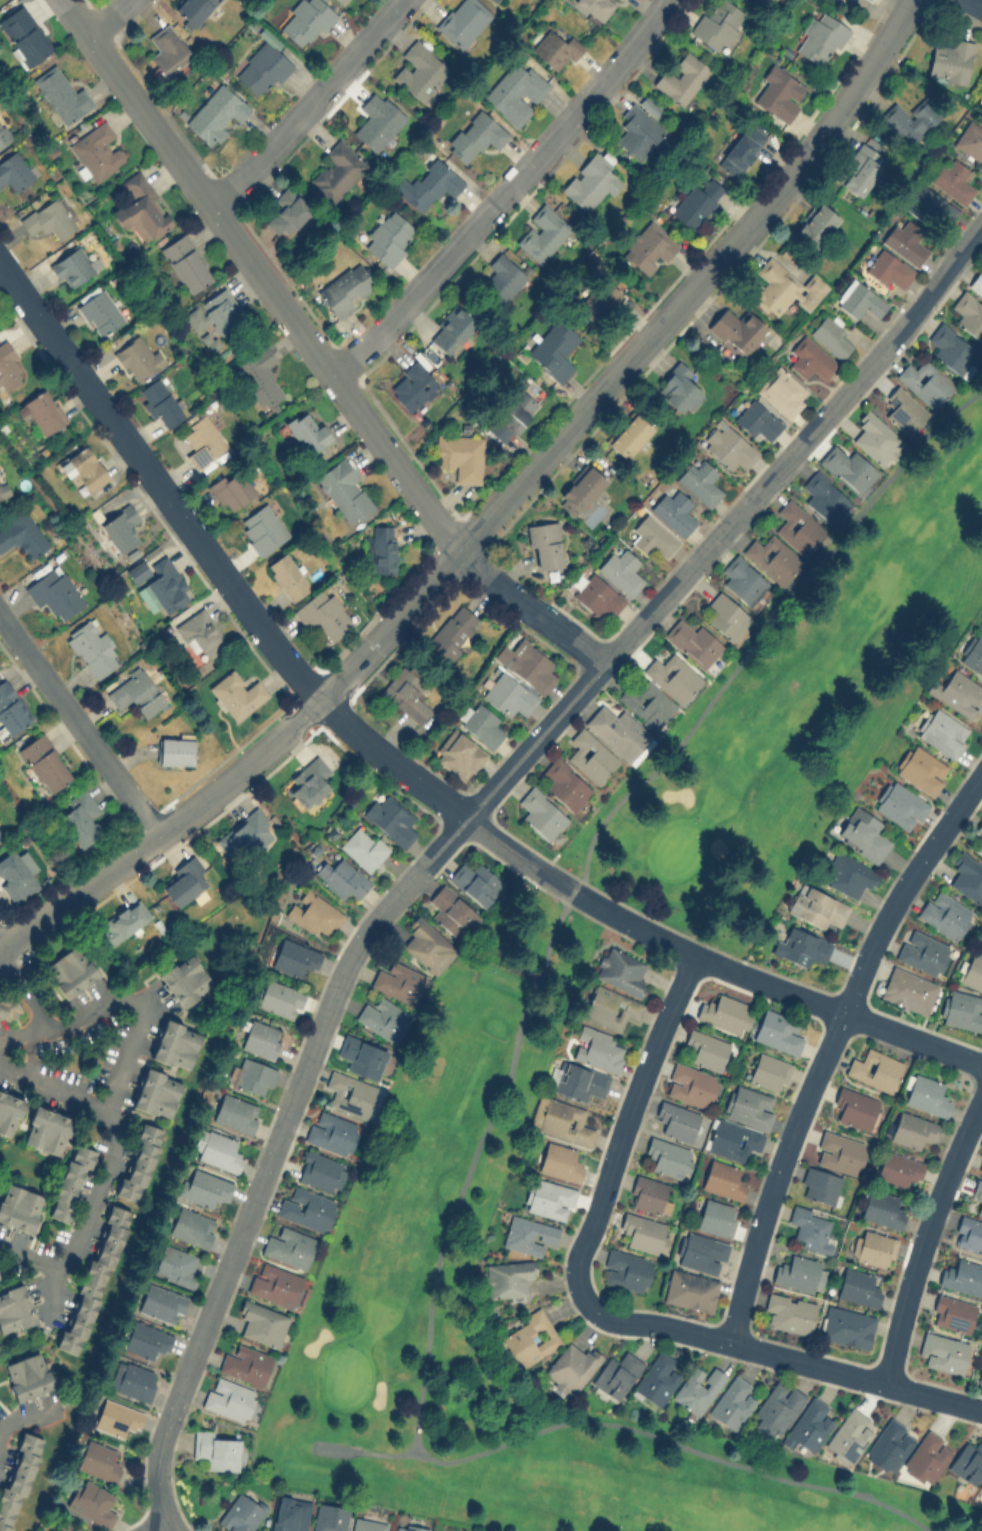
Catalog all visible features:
building: (493, 0)
building: (867, 0)
building: (620, 1)
building: (342, 2)
road: (977, 2)
building: (597, 7)
building: (191, 10)
road: (106, 17)
building: (305, 21)
building: (462, 21)
building: (718, 24)
building: (24, 34)
building: (820, 38)
building: (554, 46)
building: (167, 48)
building: (950, 60)
building: (261, 69)
building: (420, 70)
building: (681, 78)
building: (515, 92)
building: (780, 92)
building: (60, 93)
road: (306, 105)
building: (216, 113)
building: (981, 114)
building: (377, 120)
building: (909, 120)
building: (638, 131)
building: (4, 134)
building: (475, 135)
building: (969, 140)
building: (741, 149)
building: (96, 151)
building: (860, 168)
building: (338, 170)
building: (13, 171)
building: (953, 179)
building: (591, 180)
building: (428, 185)
road: (504, 192)
building: (697, 201)
building: (930, 207)
building: (141, 208)
building: (287, 211)
building: (47, 217)
building: (815, 224)
building: (543, 233)
building: (389, 237)
building: (905, 241)
building: (648, 247)
building: (186, 262)
building: (73, 267)
building: (888, 269)
road: (258, 276)
building: (502, 278)
building: (976, 282)
building: (344, 288)
building: (784, 288)
building: (860, 299)
building: (598, 300)
building: (100, 311)
building: (216, 312)
building: (969, 314)
building: (451, 329)
building: (736, 331)
building: (831, 336)
building: (951, 348)
building: (554, 349)
building: (138, 358)
building: (810, 358)
building: (9, 366)
building: (259, 377)
building: (924, 381)
building: (413, 387)
building: (678, 388)
building: (783, 392)
building: (161, 402)
building: (903, 410)
building: (43, 411)
building: (511, 415)
building: (757, 420)
building: (307, 431)
building: (629, 435)
building: (876, 438)
road: (556, 439)
building: (202, 441)
building: (726, 445)
building: (460, 455)
building: (86, 468)
building: (848, 468)
building: (700, 481)
building: (4, 489)
building: (579, 489)
building: (230, 490)
building: (345, 491)
building: (824, 497)
building: (674, 511)
building: (120, 527)
building: (798, 527)
building: (262, 528)
road: (188, 529)
building: (22, 534)
building: (653, 536)
building: (547, 544)
building: (384, 548)
building: (773, 558)
building: (621, 571)
building: (288, 576)
building: (742, 579)
road: (494, 582)
building: (159, 583)
building: (54, 592)
building: (597, 595)
building: (323, 614)
building: (726, 615)
building: (980, 622)
building: (452, 632)
building: (199, 633)
road: (569, 638)
building: (694, 643)
building: (93, 648)
building: (972, 654)
building: (526, 664)
building: (671, 676)
building: (136, 693)
building: (406, 693)
building: (236, 694)
building: (508, 694)
building: (958, 694)
park: (800, 701)
building: (647, 704)
building: (11, 709)
road: (78, 724)
building: (481, 724)
building: (618, 731)
building: (943, 733)
building: (176, 751)
building: (459, 754)
building: (590, 755)
building: (44, 762)
building: (920, 769)
building: (308, 781)
building: (565, 784)
building: (899, 805)
building: (540, 813)
building: (80, 817)
building: (390, 818)
road: (462, 819)
building: (0, 832)
building: (863, 833)
building: (244, 835)
building: (978, 837)
building: (363, 847)
building: (17, 874)
building: (847, 874)
building: (341, 877)
building: (967, 877)
building: (183, 881)
building: (476, 882)
road: (78, 893)
building: (816, 906)
building: (451, 911)
building: (945, 913)
building: (315, 914)
building: (124, 920)
building: (981, 936)
building: (427, 945)
road: (676, 946)
building: (801, 946)
building: (922, 951)
building: (295, 957)
building: (70, 970)
building: (620, 970)
building: (972, 972)
building: (186, 979)
building: (398, 982)
building: (908, 989)
building: (280, 998)
building: (7, 1004)
building: (611, 1008)
building: (961, 1009)
road: (147, 1010)
road: (41, 1013)
building: (725, 1013)
building: (384, 1018)
building: (777, 1031)
building: (261, 1038)
building: (175, 1043)
road: (829, 1043)
building: (597, 1048)
building: (706, 1049)
building: (362, 1056)
building: (874, 1068)
building: (769, 1071)
building: (254, 1076)
building: (578, 1080)
building: (690, 1085)
building: (157, 1092)
building: (350, 1093)
building: (928, 1094)
building: (748, 1106)
building: (854, 1107)
building: (9, 1112)
building: (236, 1112)
road: (493, 1113)
building: (561, 1120)
building: (676, 1120)
building: (46, 1129)
road: (119, 1129)
building: (912, 1129)
building: (331, 1132)
building: (733, 1139)
road: (617, 1140)
building: (217, 1149)
building: (839, 1152)
building: (669, 1157)
building: (560, 1161)
building: (140, 1162)
building: (980, 1166)
building: (898, 1168)
building: (320, 1170)
building: (723, 1179)
building: (70, 1181)
building: (819, 1185)
building: (204, 1187)
building: (649, 1194)
building: (977, 1194)
building: (549, 1198)
building: (18, 1206)
building: (307, 1208)
building: (882, 1209)
building: (716, 1217)
building: (192, 1226)
park: (410, 1227)
building: (810, 1229)
building: (644, 1232)
building: (969, 1233)
building: (528, 1235)
road: (926, 1237)
building: (289, 1246)
building: (873, 1247)
building: (700, 1252)
road: (35, 1255)
building: (177, 1265)
building: (626, 1270)
building: (798, 1273)
building: (962, 1277)
building: (507, 1278)
building: (92, 1284)
building: (275, 1284)
building: (858, 1287)
building: (690, 1290)
building: (162, 1303)
building: (15, 1308)
building: (790, 1312)
building: (952, 1313)
building: (263, 1322)
building: (847, 1326)
building: (530, 1338)
building: (146, 1339)
road: (750, 1345)
building: (943, 1352)
building: (245, 1364)
building: (570, 1368)
building: (616, 1374)
building: (27, 1375)
building: (980, 1376)
building: (133, 1379)
building: (655, 1380)
building: (697, 1388)
road: (934, 1395)
building: (228, 1398)
building: (732, 1402)
building: (776, 1409)
building: (117, 1417)
building: (808, 1425)
building: (849, 1435)
building: (890, 1444)
building: (217, 1449)
road: (365, 1451)
building: (927, 1457)
building: (99, 1461)
building: (968, 1461)
building: (17, 1479)
building: (981, 1487)
building: (92, 1502)
building: (242, 1512)
building: (290, 1514)
building: (329, 1517)
building: (368, 1524)
building: (408, 1527)

